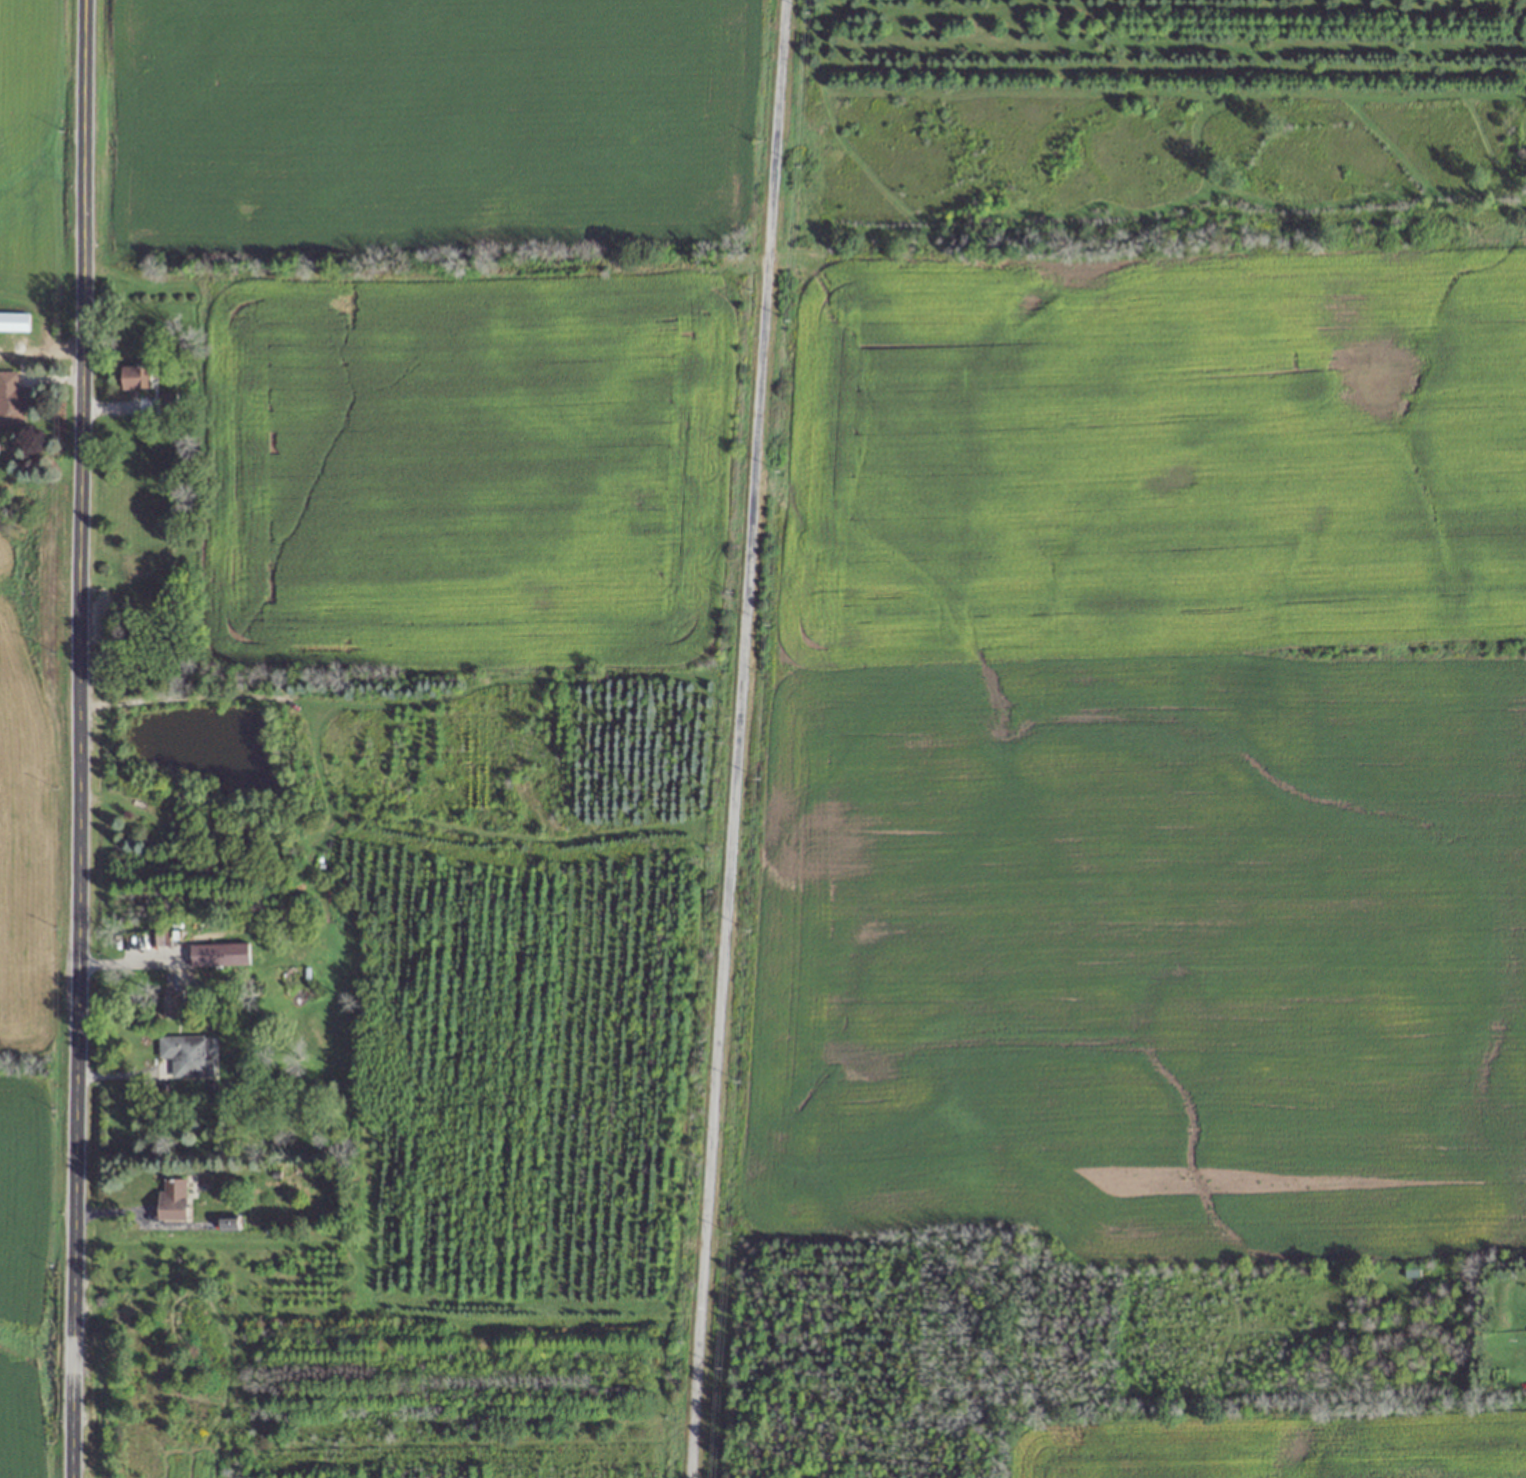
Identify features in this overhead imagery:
building: (13, 321)
building: (135, 378)
building: (10, 399)
building: (166, 403)
road: (76, 739)
road: (735, 739)
crop: (1147, 751)
building: (159, 938)
building: (213, 955)
building: (184, 1055)
building: (172, 1199)
crop: (1268, 1443)

